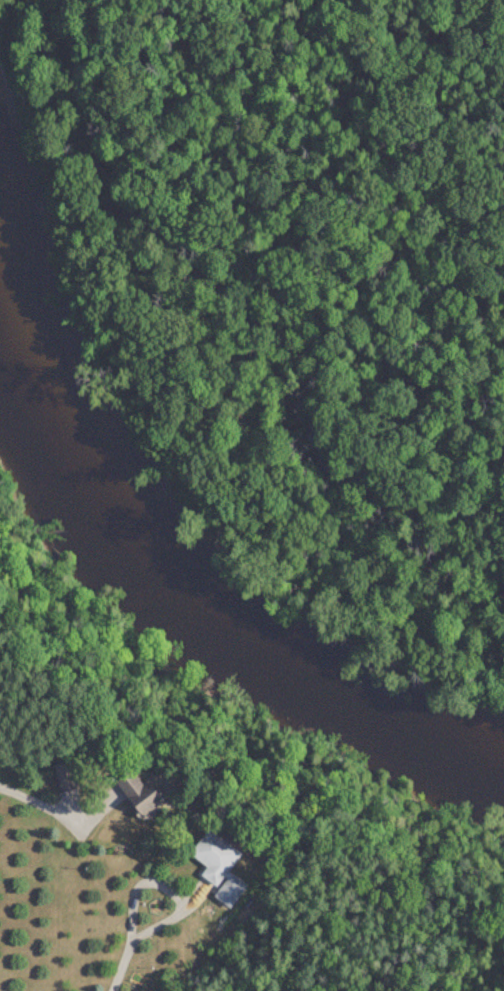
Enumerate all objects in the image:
river: (201, 617)
building: (63, 779)
building: (132, 795)
road: (46, 807)
building: (217, 868)
road: (134, 884)
road: (146, 930)

